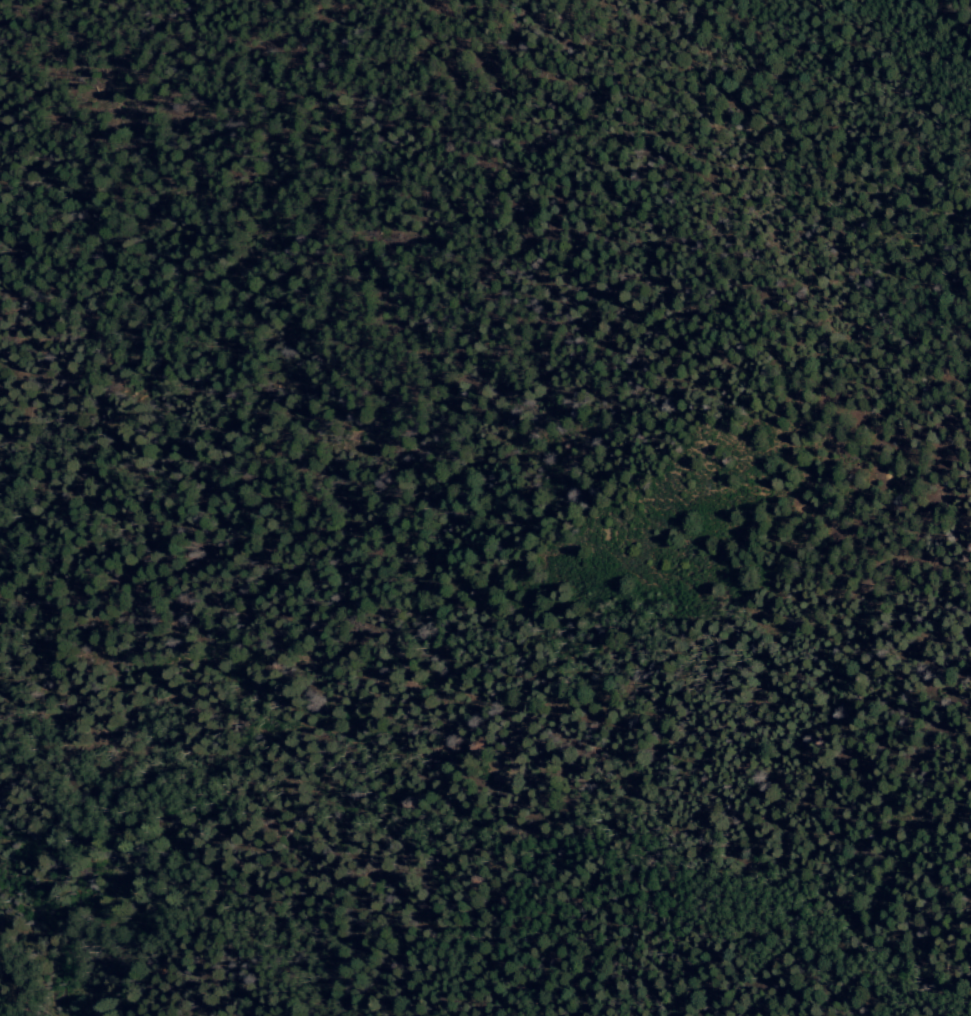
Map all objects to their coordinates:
road: (14, 980)

